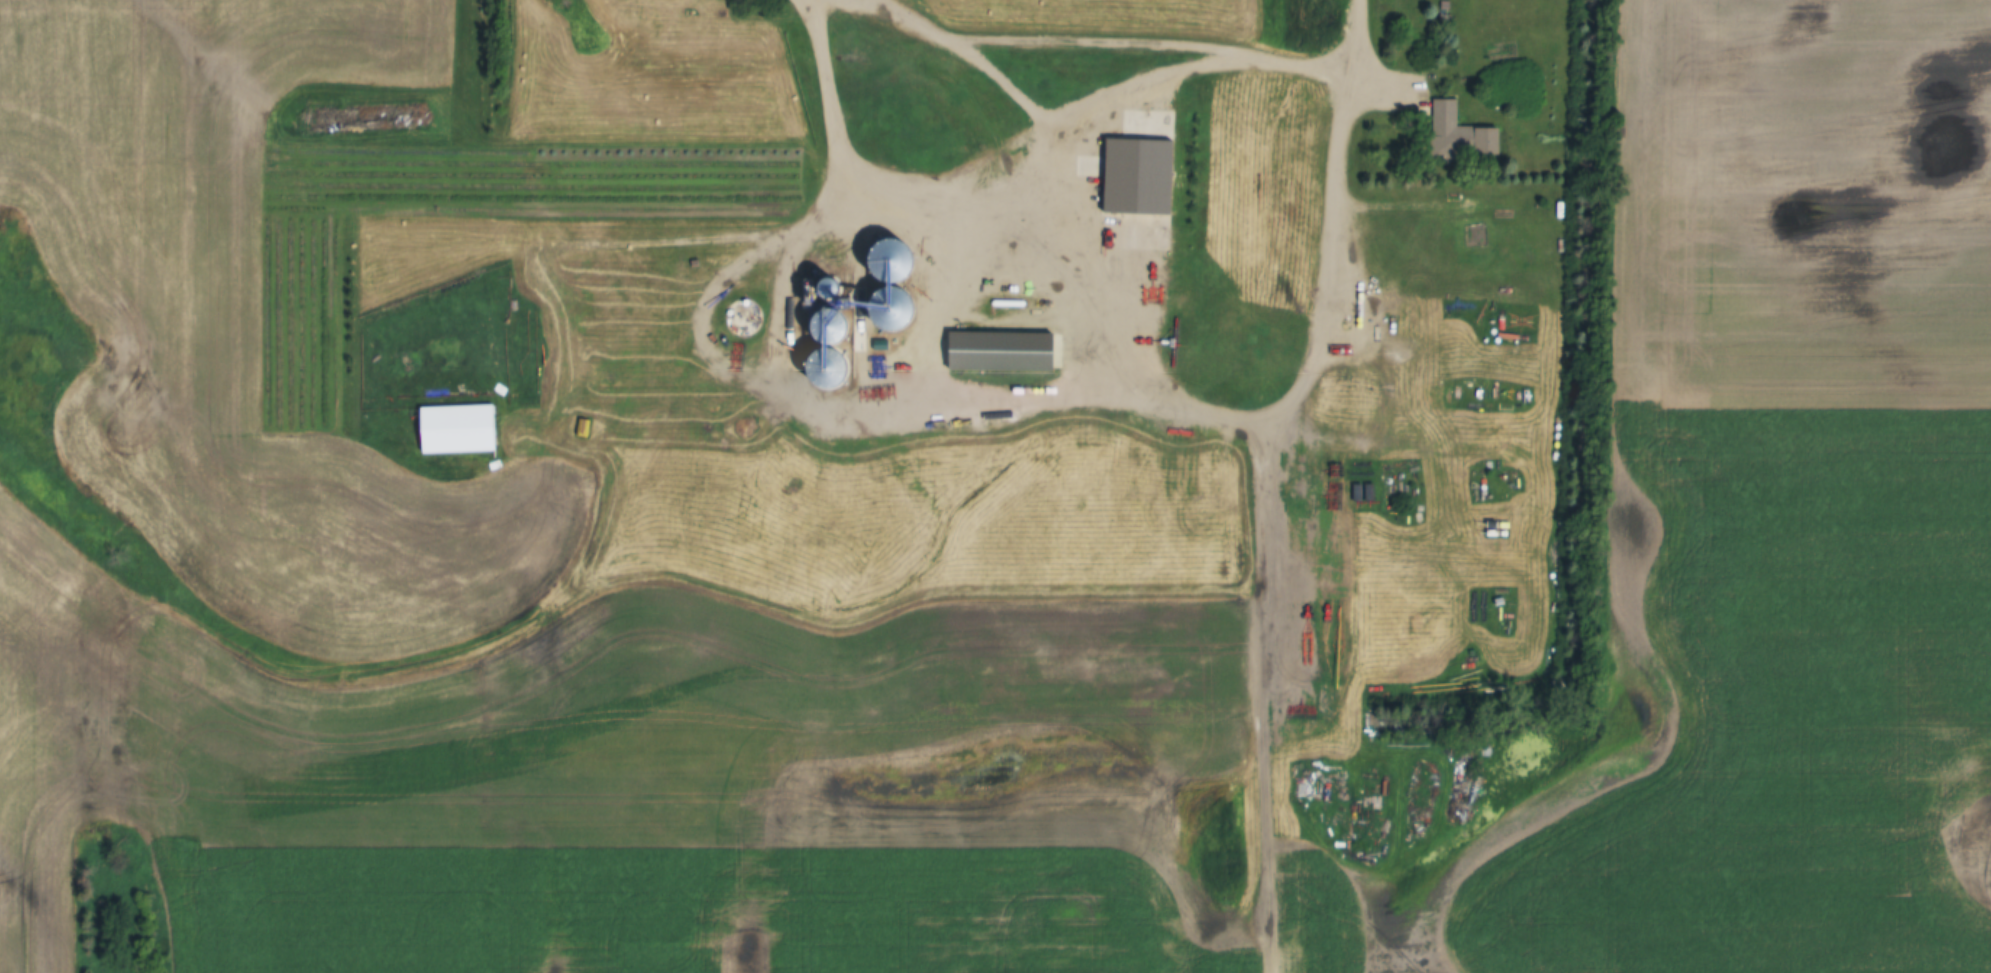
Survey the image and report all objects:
building: (689, 16)
building: (1444, 20)
road: (1086, 106)
building: (1457, 136)
building: (692, 254)
building: (890, 284)
building: (828, 291)
building: (743, 321)
building: (828, 331)
building: (1000, 354)
building: (829, 382)
road: (1042, 390)
building: (456, 432)
building: (1407, 530)
building: (1406, 543)

